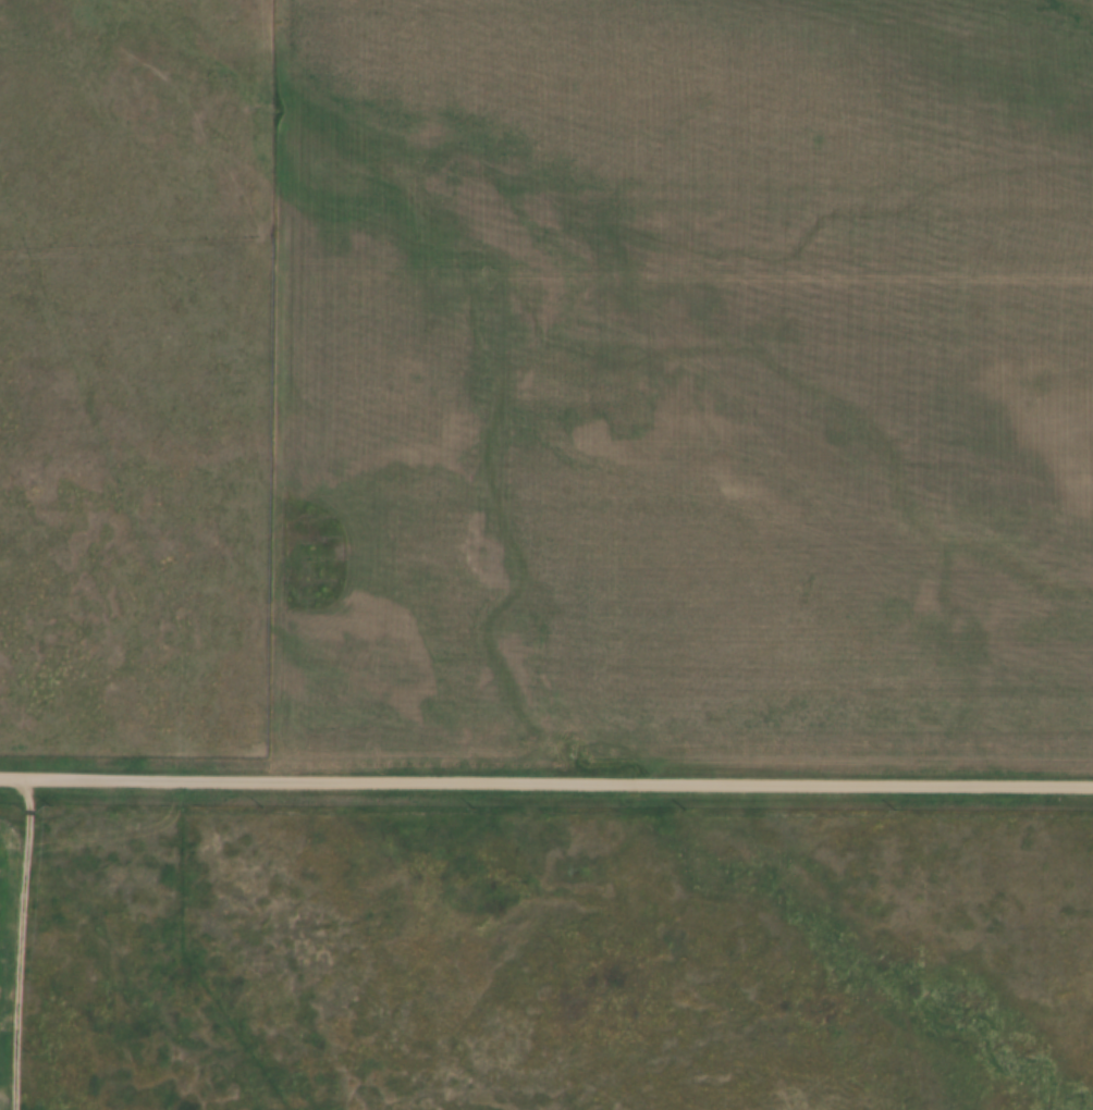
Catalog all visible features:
road: (546, 780)

